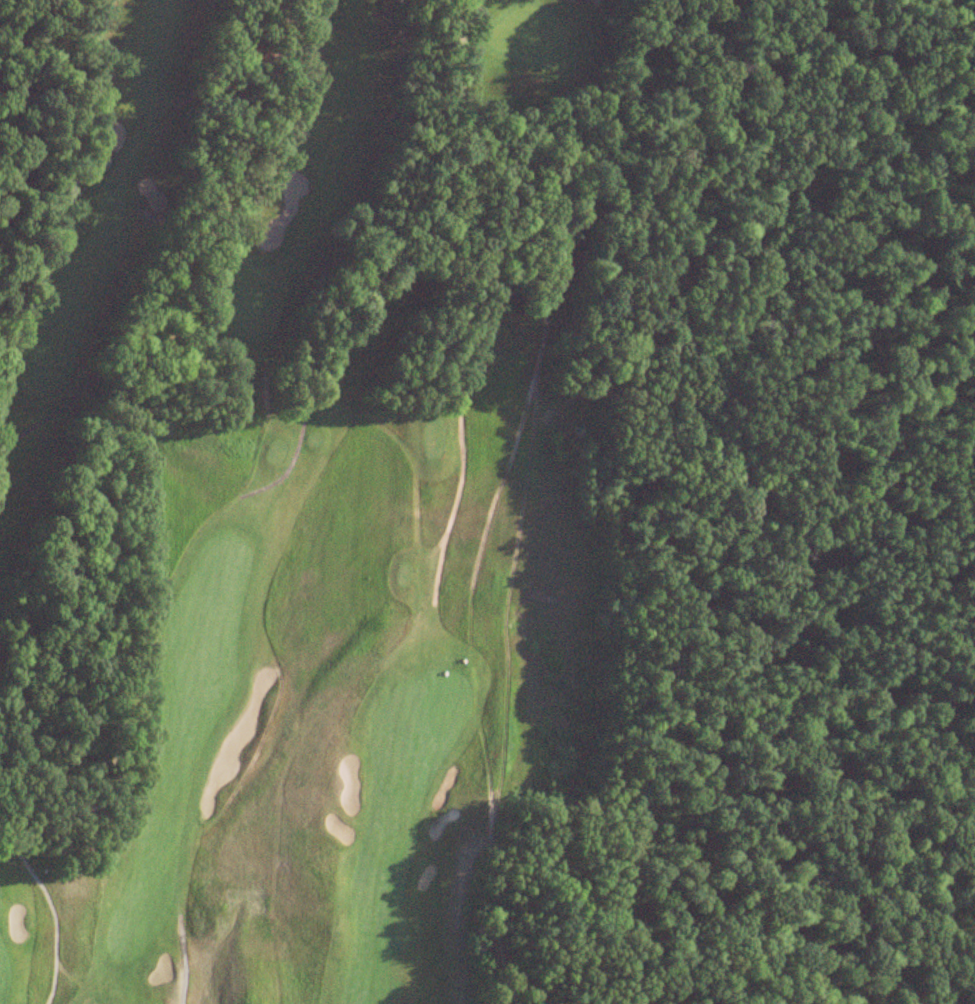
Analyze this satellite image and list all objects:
park: (288, 484)

